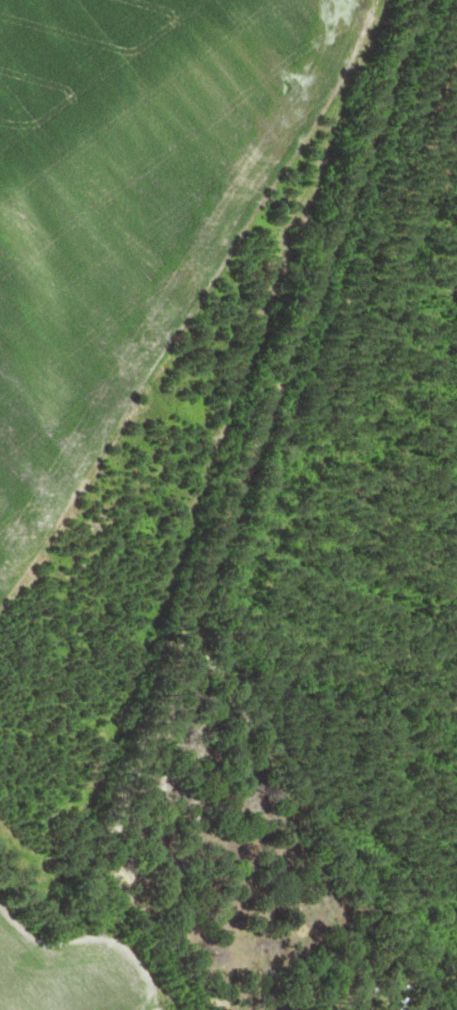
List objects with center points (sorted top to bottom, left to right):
road: (323, 303)

